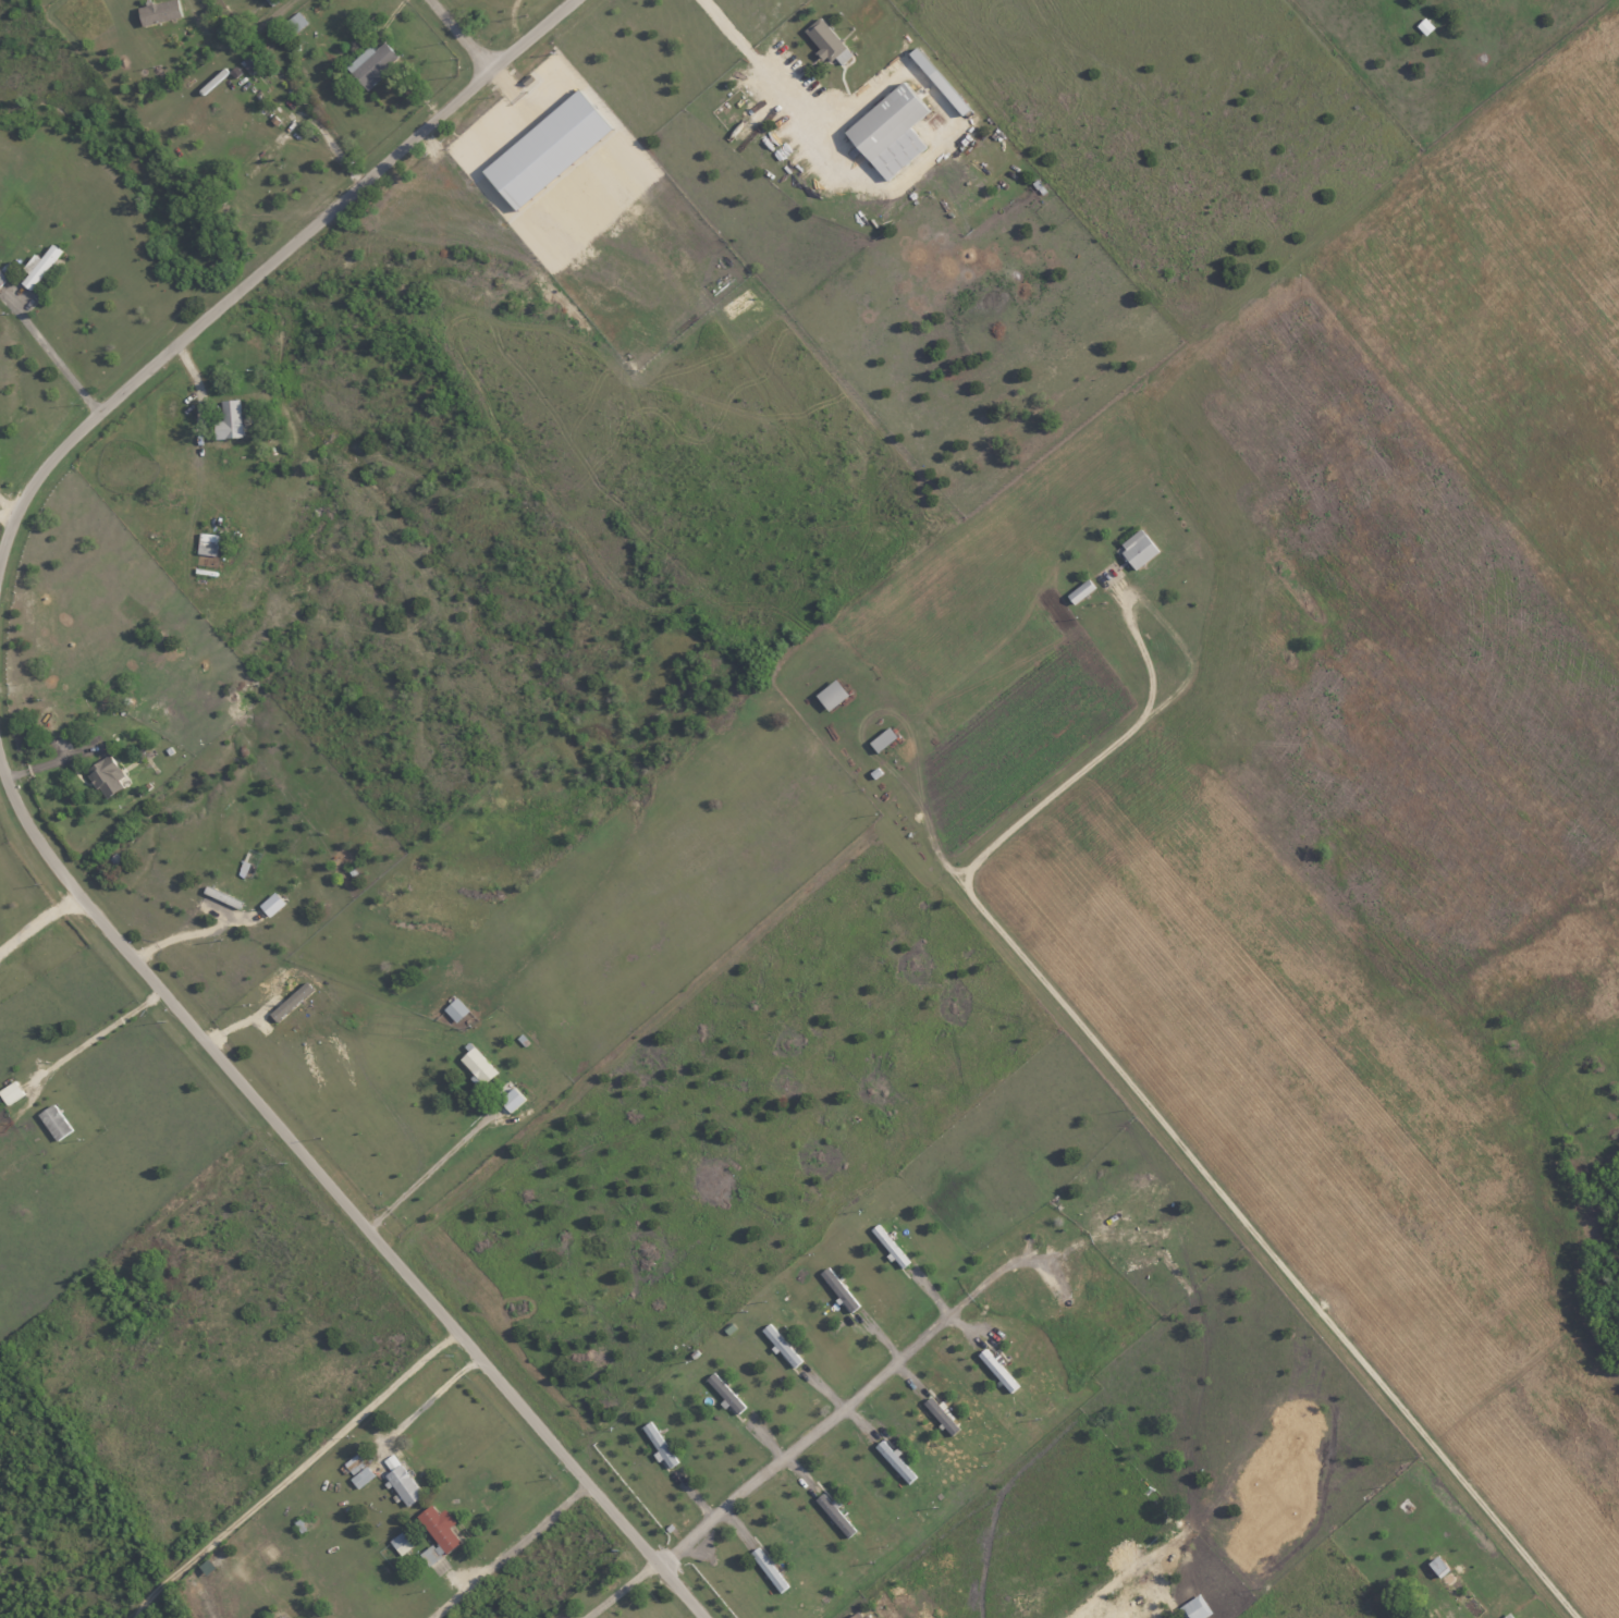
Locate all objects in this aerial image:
building: (159, 12)
road: (459, 34)
building: (826, 42)
building: (249, 63)
building: (371, 64)
road: (756, 64)
building: (888, 131)
building: (547, 149)
building: (39, 266)
road: (267, 269)
building: (1, 277)
road: (53, 361)
building: (229, 419)
road: (8, 519)
building: (206, 543)
building: (1137, 549)
building: (1080, 590)
building: (831, 694)
building: (882, 738)
building: (105, 775)
building: (270, 904)
road: (37, 919)
building: (291, 1001)
building: (455, 1009)
building: (475, 1064)
building: (10, 1092)
building: (508, 1101)
road: (1146, 1108)
building: (53, 1121)
road: (431, 1167)
road: (339, 1196)
building: (838, 1288)
building: (780, 1345)
building: (996, 1369)
building: (724, 1392)
road: (431, 1397)
building: (941, 1414)
road: (819, 1423)
building: (660, 1446)
building: (895, 1460)
building: (357, 1470)
road: (292, 1473)
building: (400, 1480)
building: (835, 1513)
building: (439, 1527)
building: (401, 1541)
building: (431, 1553)
road: (518, 1554)
building: (768, 1569)
road: (621, 1591)
building: (1194, 1607)
building: (856, 1615)
building: (1508, 1616)

